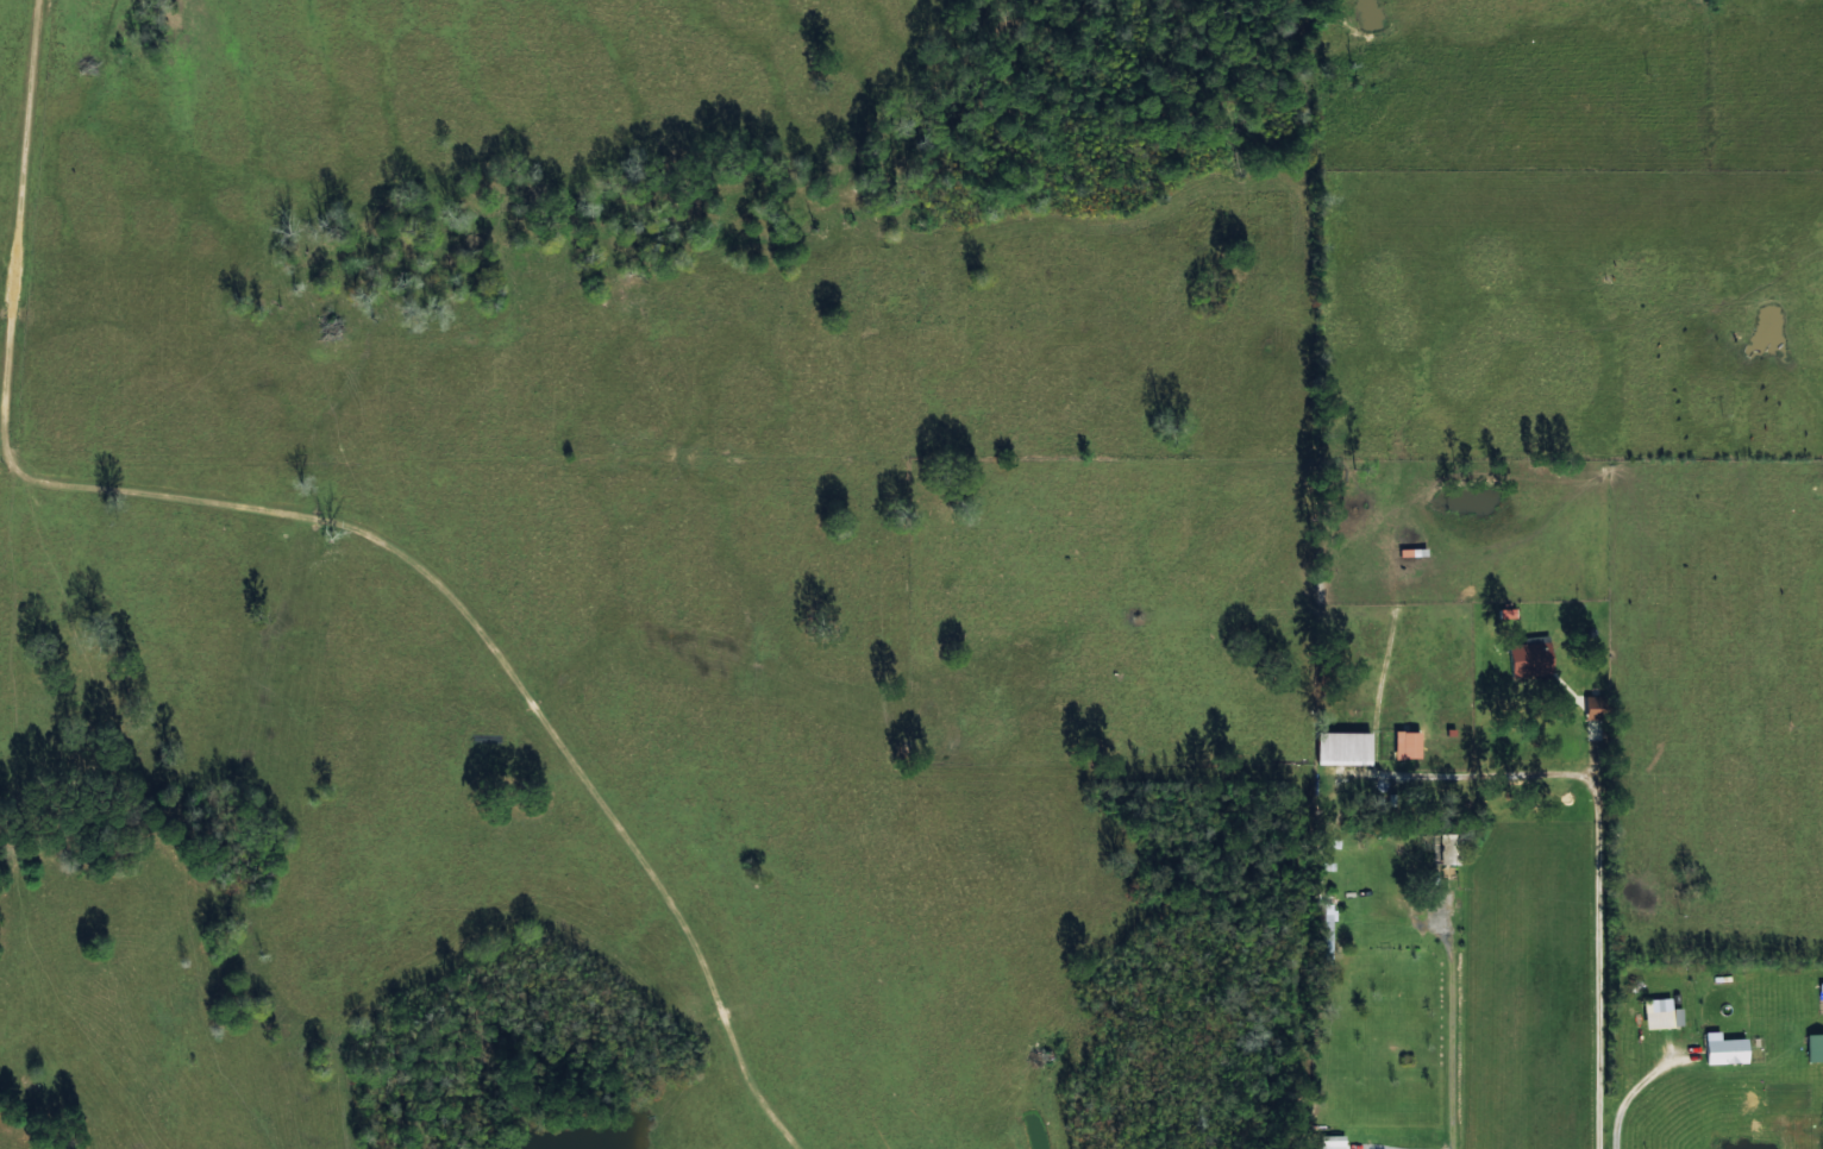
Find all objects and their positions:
building: (1531, 655)
building: (1596, 707)
building: (1407, 743)
building: (1343, 747)
building: (1447, 848)
building: (1661, 1013)
building: (1815, 1047)
building: (1724, 1049)
building: (1333, 1142)

